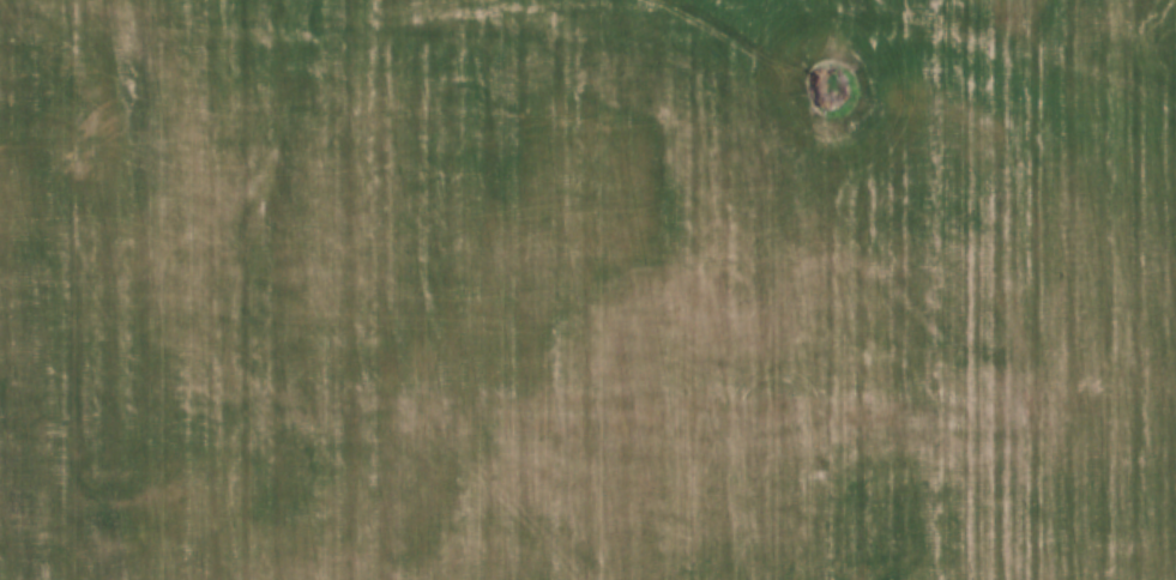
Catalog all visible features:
road: (875, 36)

